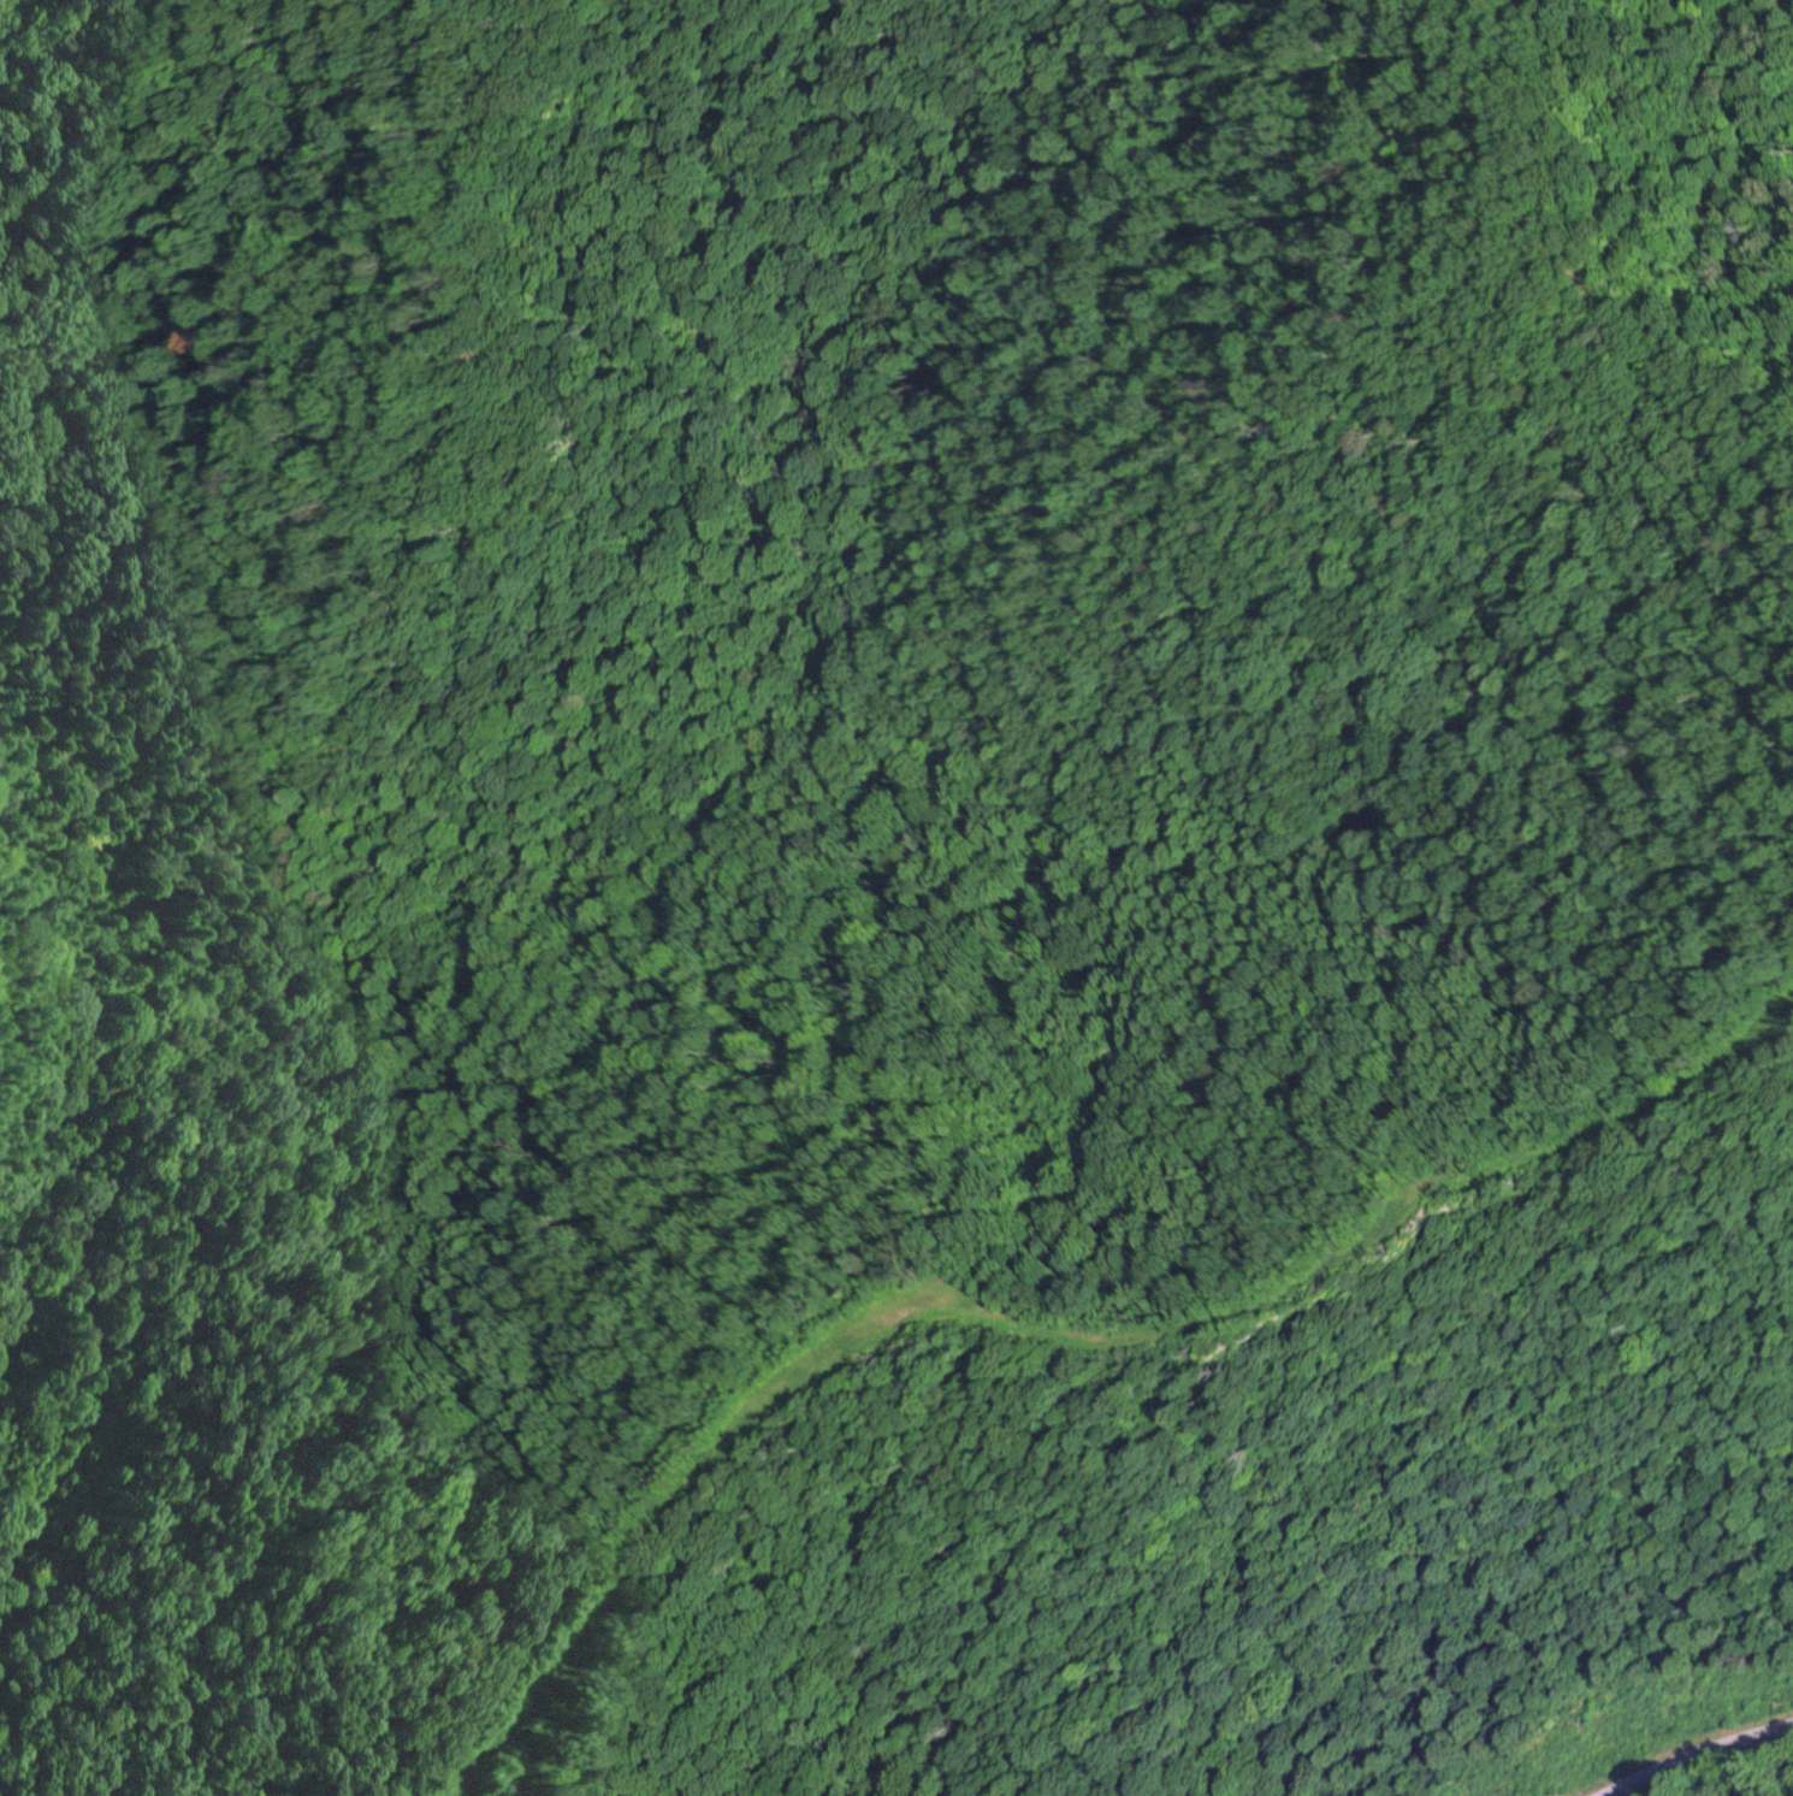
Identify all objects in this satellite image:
road: (1693, 1751)

